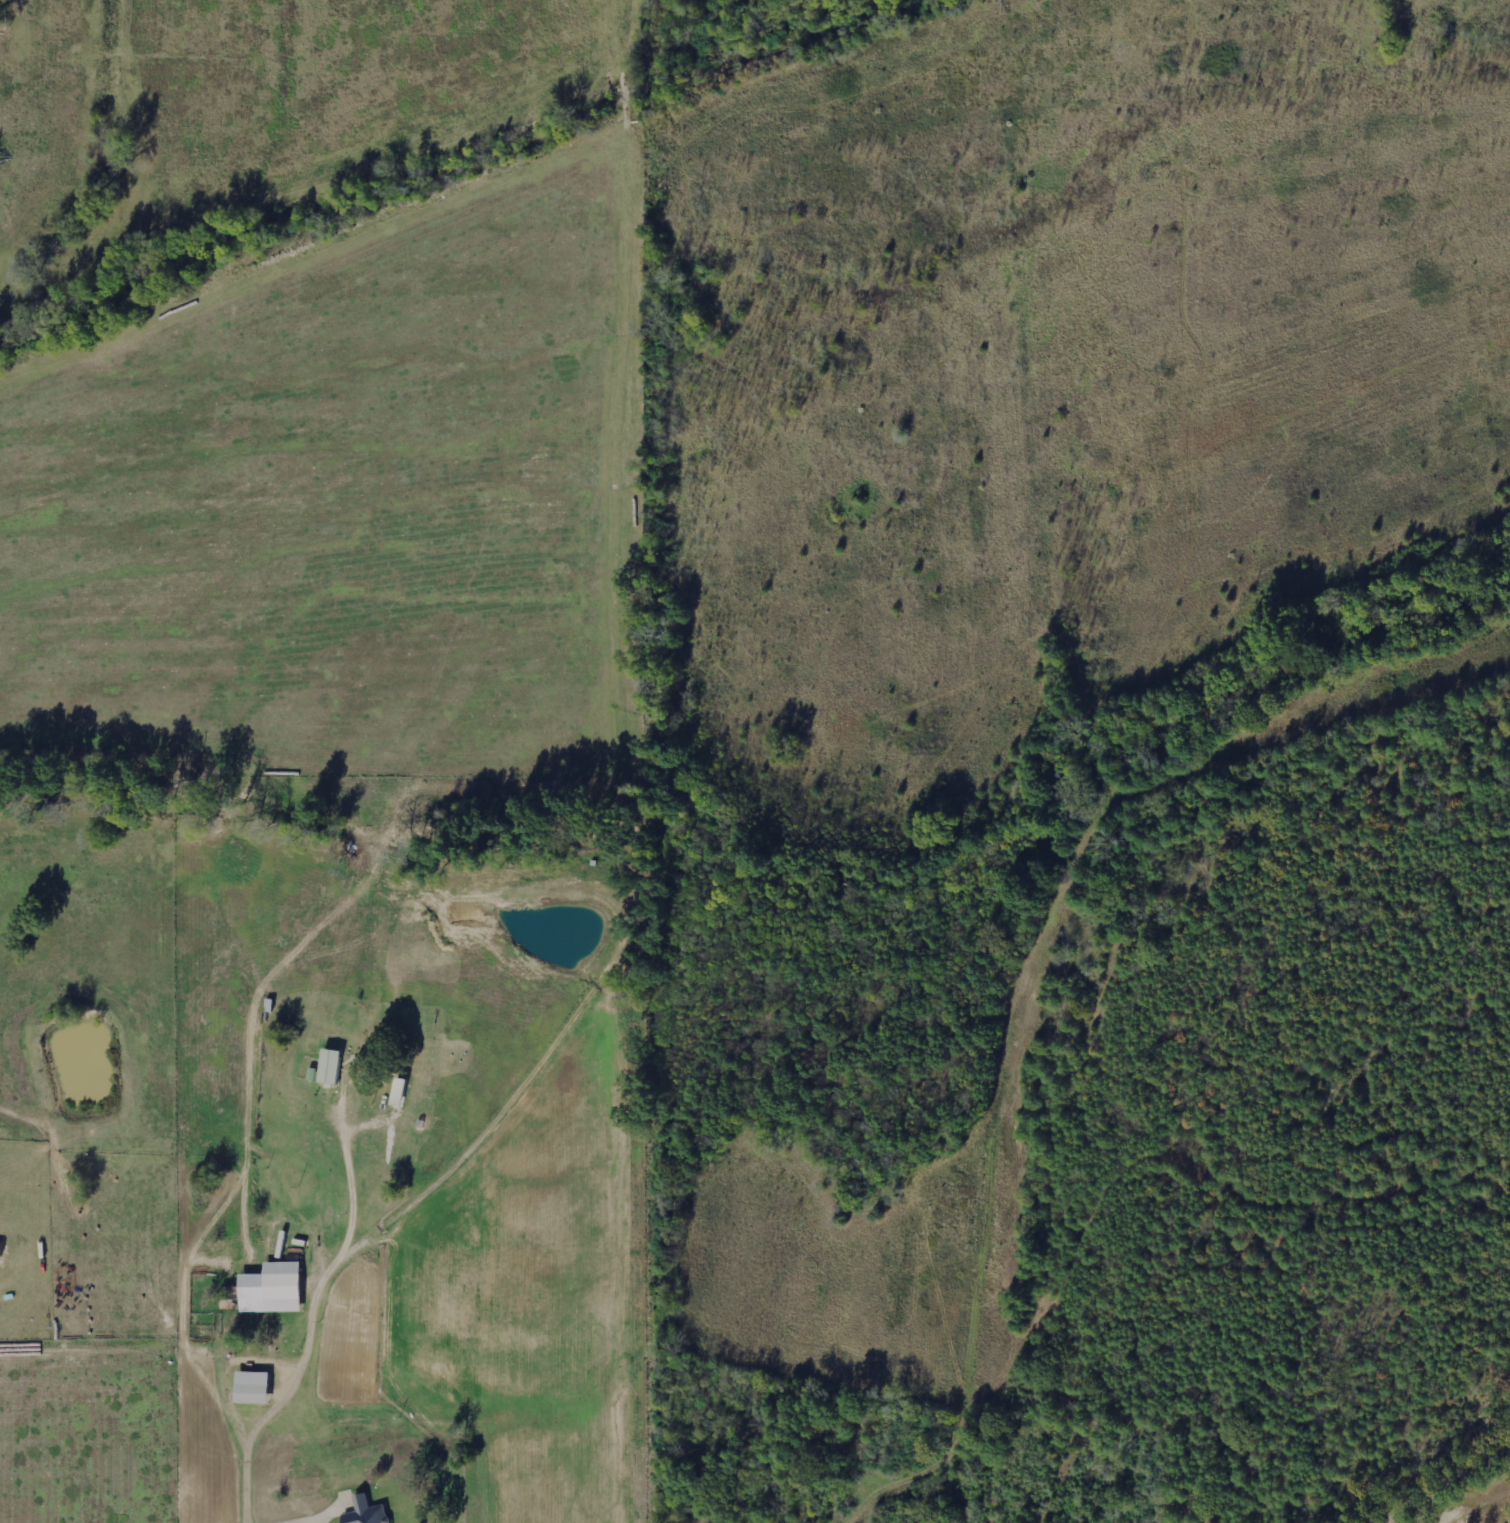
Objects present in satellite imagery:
building: (331, 1065)
building: (272, 1288)
building: (253, 1386)
road: (250, 1478)
road: (1450, 1490)
building: (368, 1511)

